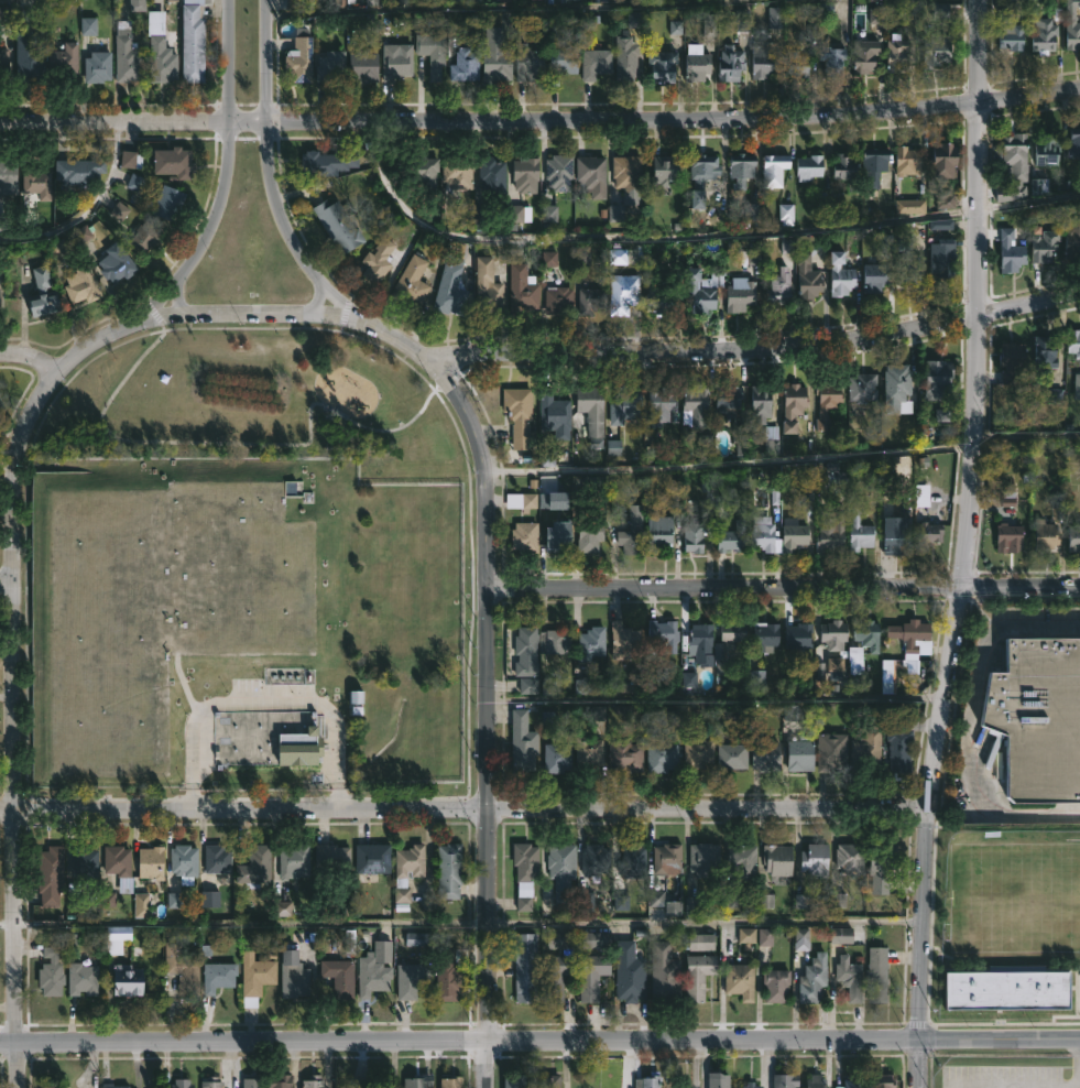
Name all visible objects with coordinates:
road: (21, 1)
road: (545, 12)
building: (1071, 25)
building: (1008, 33)
building: (1043, 35)
building: (192, 42)
road: (972, 50)
building: (936, 51)
building: (24, 52)
building: (4, 55)
building: (127, 55)
building: (432, 55)
building: (497, 55)
building: (864, 56)
building: (299, 58)
building: (63, 59)
road: (262, 59)
building: (625, 59)
building: (895, 59)
building: (764, 61)
building: (832, 61)
building: (161, 62)
road: (231, 62)
building: (396, 62)
building: (561, 62)
building: (528, 64)
building: (594, 64)
building: (696, 64)
building: (730, 65)
building: (798, 65)
building: (363, 67)
building: (463, 67)
building: (663, 67)
building: (97, 68)
building: (330, 68)
road: (541, 127)
building: (1074, 141)
building: (1046, 151)
building: (945, 160)
building: (173, 161)
building: (327, 161)
building: (906, 161)
building: (874, 163)
building: (808, 166)
building: (741, 167)
building: (1014, 167)
building: (423, 168)
building: (665, 168)
building: (773, 168)
building: (847, 170)
building: (79, 171)
building: (559, 171)
building: (591, 171)
building: (458, 172)
building: (492, 173)
building: (525, 173)
building: (701, 174)
building: (8, 176)
building: (628, 176)
building: (36, 181)
road: (1058, 199)
building: (946, 200)
building: (167, 202)
building: (910, 205)
road: (86, 209)
building: (337, 225)
building: (941, 226)
road: (207, 232)
road: (293, 233)
building: (146, 236)
building: (1071, 239)
road: (590, 240)
building: (1044, 244)
building: (1011, 251)
building: (623, 254)
building: (943, 257)
building: (378, 259)
building: (116, 262)
building: (907, 264)
building: (840, 273)
building: (874, 275)
building: (807, 278)
building: (410, 282)
building: (80, 285)
building: (487, 285)
building: (449, 286)
building: (523, 286)
building: (702, 287)
building: (778, 287)
building: (659, 293)
building: (740, 293)
building: (41, 295)
building: (624, 295)
building: (591, 300)
building: (559, 301)
road: (177, 302)
road: (317, 302)
road: (252, 315)
road: (390, 340)
road: (97, 341)
building: (1073, 342)
road: (751, 353)
building: (1046, 353)
road: (31, 357)
building: (1012, 361)
building: (938, 376)
building: (1077, 383)
building: (863, 387)
building: (897, 389)
building: (727, 396)
building: (760, 402)
building: (828, 402)
building: (624, 404)
building: (661, 404)
building: (696, 404)
building: (793, 405)
building: (591, 412)
building: (554, 413)
building: (519, 414)
building: (772, 439)
road: (238, 442)
road: (784, 463)
road: (7, 468)
building: (522, 501)
building: (859, 526)
building: (831, 531)
building: (658, 532)
building: (588, 534)
building: (764, 534)
building: (928, 534)
building: (1046, 534)
building: (895, 535)
building: (558, 536)
building: (695, 536)
building: (629, 537)
building: (732, 537)
building: (793, 537)
building: (1008, 537)
building: (1073, 537)
building: (525, 538)
park: (253, 575)
road: (7, 583)
road: (784, 586)
building: (367, 589)
building: (440, 590)
road: (958, 594)
road: (1014, 628)
building: (732, 631)
building: (833, 633)
building: (661, 634)
building: (765, 634)
building: (868, 634)
building: (798, 635)
building: (908, 635)
building: (623, 639)
building: (553, 640)
building: (592, 641)
building: (701, 644)
building: (525, 652)
road: (487, 685)
road: (14, 698)
road: (787, 699)
road: (7, 700)
road: (273, 707)
building: (1037, 716)
building: (522, 743)
building: (899, 743)
building: (865, 748)
building: (273, 751)
building: (587, 752)
building: (800, 753)
building: (832, 753)
building: (625, 754)
building: (697, 754)
building: (765, 754)
building: (557, 755)
building: (659, 757)
building: (731, 757)
road: (970, 790)
road: (466, 812)
building: (331, 858)
building: (372, 858)
building: (667, 858)
building: (850, 858)
building: (217, 859)
building: (593, 859)
building: (705, 859)
building: (83, 860)
building: (294, 861)
building: (633, 861)
building: (742, 861)
building: (815, 861)
building: (150, 862)
building: (184, 862)
building: (778, 862)
building: (118, 866)
building: (254, 867)
building: (882, 870)
building: (449, 871)
building: (560, 872)
building: (525, 873)
building: (48, 874)
building: (401, 882)
building: (76, 895)
building: (141, 907)
road: (463, 916)
building: (842, 937)
building: (116, 938)
building: (416, 940)
building: (559, 940)
building: (594, 940)
building: (803, 940)
building: (702, 943)
building: (383, 946)
building: (525, 968)
building: (179, 971)
building: (628, 971)
building: (448, 972)
building: (663, 972)
building: (50, 973)
building: (291, 973)
building: (877, 975)
building: (557, 976)
building: (592, 976)
building: (698, 976)
building: (218, 977)
building: (339, 977)
building: (851, 977)
building: (83, 978)
building: (371, 978)
building: (255, 979)
building: (412, 979)
building: (814, 979)
building: (127, 980)
building: (740, 981)
building: (996, 981)
building: (776, 986)
road: (248, 1040)
road: (783, 1040)
road: (6, 1042)
road: (487, 1064)
road: (11, 1065)
building: (786, 1080)
building: (279, 1081)
building: (313, 1081)
building: (418, 1081)
building: (515, 1081)
building: (549, 1081)
building: (647, 1081)
building: (716, 1081)
building: (815, 1081)
building: (883, 1081)
building: (211, 1082)
building: (451, 1082)
building: (181, 1084)
building: (252, 1084)
building: (852, 1084)
building: (112, 1086)
building: (750, 1086)

